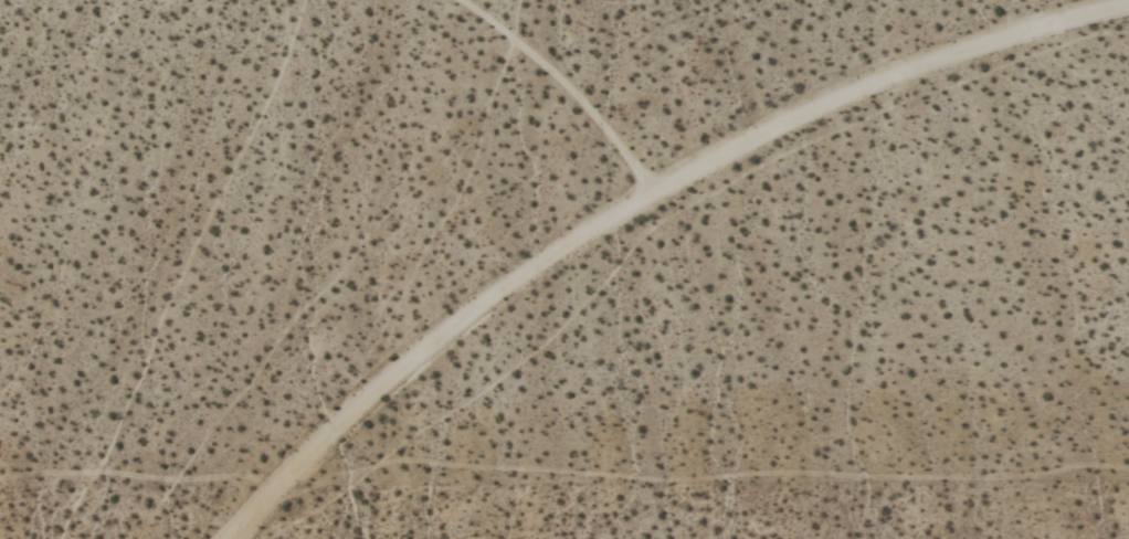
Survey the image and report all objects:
road: (560, 85)
road: (640, 203)
crop: (564, 269)

